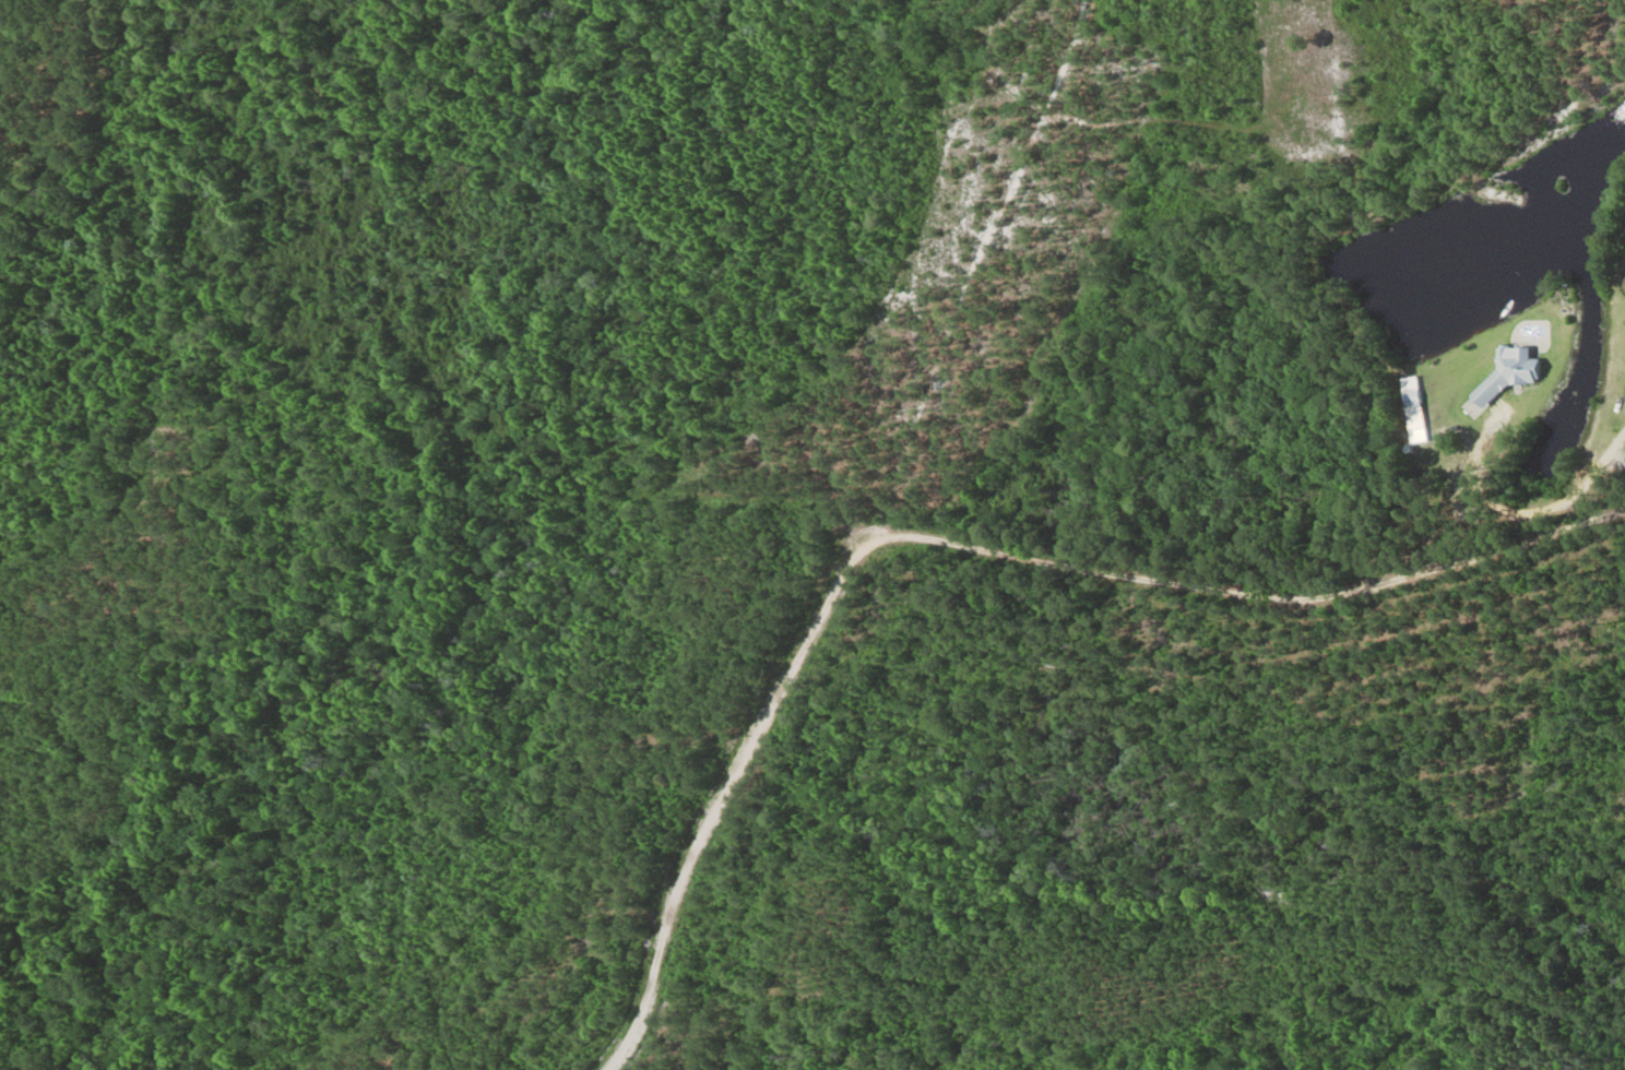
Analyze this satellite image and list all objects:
road: (974, 269)
building: (1508, 373)
building: (1412, 431)
road: (1544, 509)
road: (1254, 594)
road: (722, 796)

